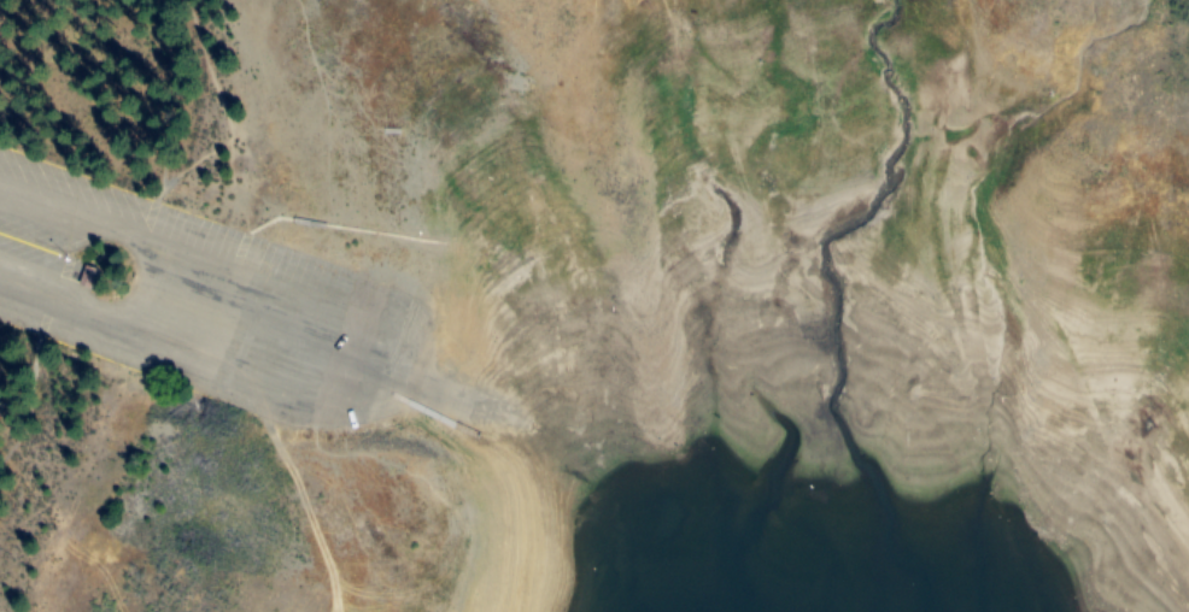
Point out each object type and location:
road: (142, 276)
parking lot: (201, 299)
road: (338, 335)
road: (381, 365)

